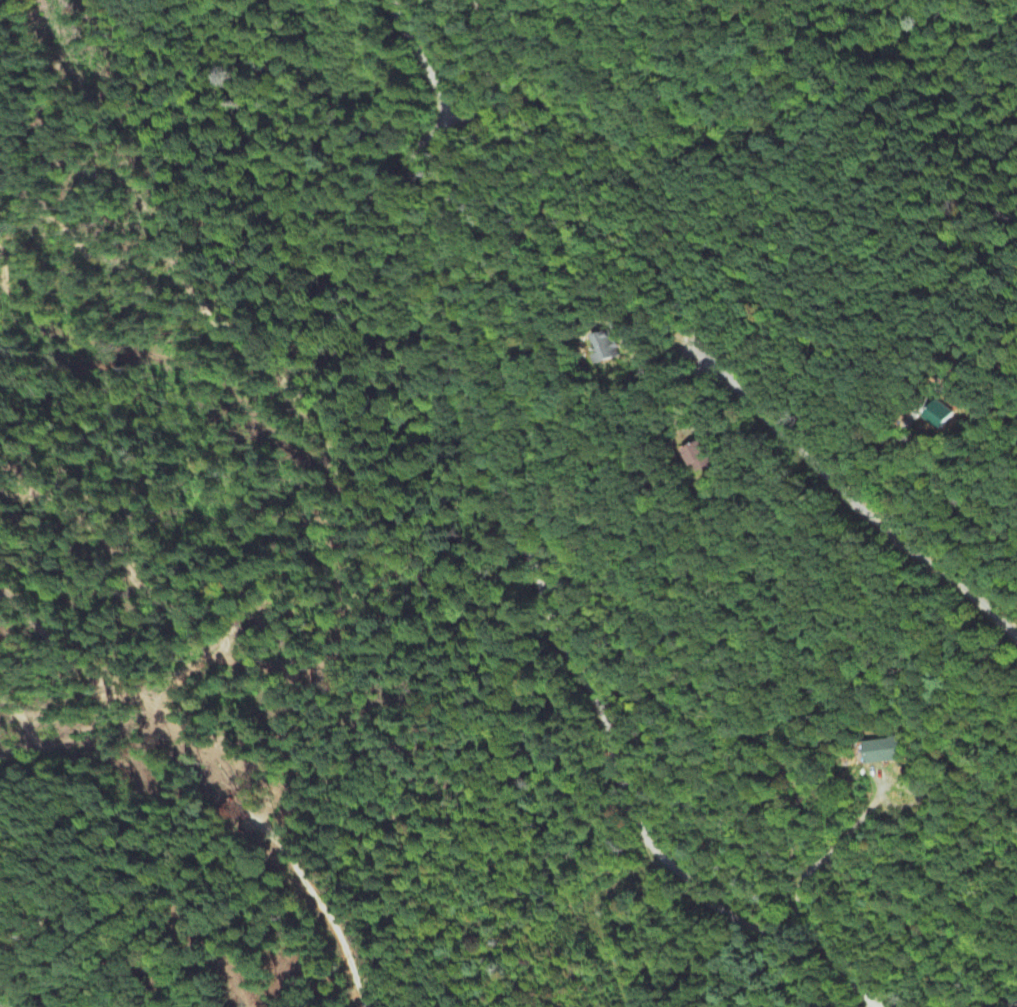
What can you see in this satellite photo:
road: (488, 79)
building: (944, 415)
building: (699, 458)
road: (884, 468)
road: (855, 503)
road: (525, 558)
building: (883, 751)
road: (827, 855)
road: (1010, 1004)

